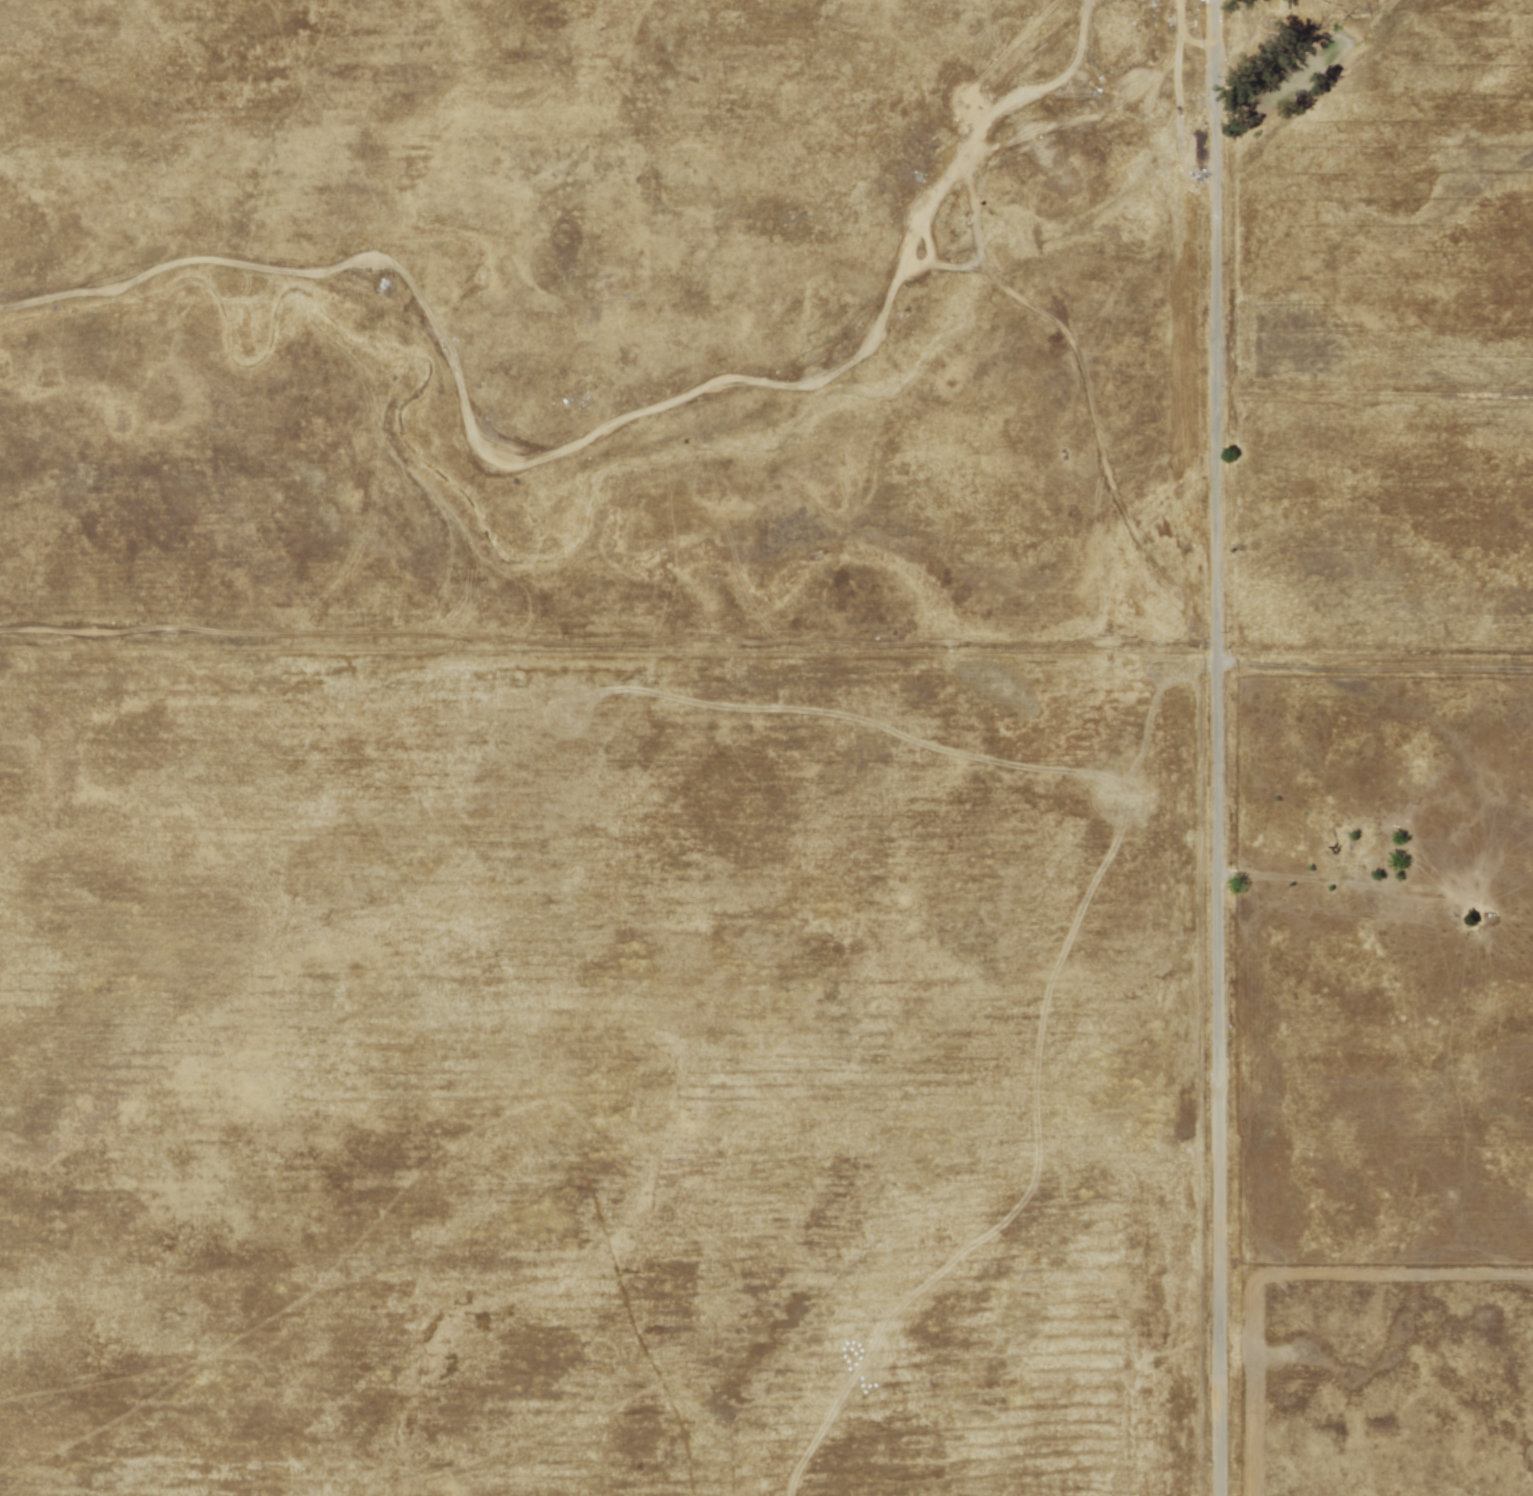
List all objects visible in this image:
road: (1373, 670)
road: (1215, 748)

